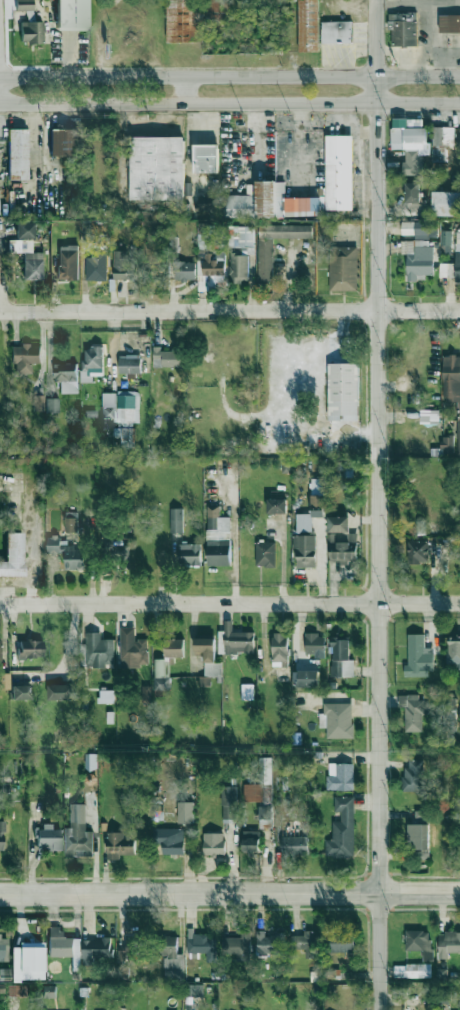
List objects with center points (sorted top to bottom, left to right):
building: (23, 5)
building: (71, 14)
building: (195, 17)
building: (449, 23)
building: (308, 25)
building: (403, 29)
building: (31, 31)
building: (337, 31)
road: (230, 77)
road: (187, 90)
road: (230, 103)
building: (446, 135)
building: (63, 141)
building: (410, 141)
building: (17, 153)
building: (205, 158)
building: (156, 168)
building: (339, 172)
building: (412, 192)
building: (280, 200)
building: (205, 202)
building: (446, 203)
building: (238, 205)
building: (425, 229)
building: (24, 230)
building: (445, 241)
building: (457, 256)
building: (28, 258)
building: (419, 258)
building: (265, 260)
building: (68, 262)
building: (124, 265)
building: (96, 266)
building: (238, 268)
building: (343, 268)
building: (184, 270)
building: (210, 272)
road: (230, 311)
building: (24, 357)
building: (168, 357)
building: (93, 360)
building: (129, 365)
building: (66, 376)
building: (452, 385)
building: (343, 391)
building: (38, 402)
building: (52, 405)
building: (122, 415)
building: (429, 415)
building: (447, 444)
building: (337, 469)
road: (383, 504)
building: (276, 505)
building: (312, 505)
building: (175, 519)
building: (70, 521)
building: (338, 523)
building: (218, 537)
road: (29, 543)
building: (342, 547)
building: (118, 549)
building: (305, 550)
building: (418, 551)
building: (67, 552)
building: (265, 553)
building: (190, 554)
building: (12, 555)
road: (7, 583)
road: (229, 603)
building: (238, 640)
building: (315, 644)
building: (0, 647)
building: (30, 648)
building: (132, 648)
building: (279, 649)
building: (98, 650)
building: (453, 652)
building: (208, 655)
building: (419, 656)
building: (341, 657)
building: (166, 663)
building: (307, 678)
building: (4, 680)
building: (20, 691)
building: (61, 691)
building: (247, 691)
building: (146, 694)
building: (105, 696)
building: (413, 711)
building: (337, 719)
building: (449, 721)
building: (413, 775)
building: (340, 776)
building: (261, 788)
building: (229, 802)
building: (185, 812)
building: (421, 816)
building: (81, 818)
building: (342, 828)
building: (1, 835)
building: (48, 837)
building: (170, 839)
building: (418, 839)
building: (250, 841)
building: (213, 843)
building: (119, 845)
building: (294, 845)
road: (229, 894)
building: (341, 941)
building: (419, 942)
building: (269, 943)
building: (306, 943)
building: (448, 943)
building: (202, 944)
building: (64, 946)
building: (236, 946)
building: (3, 948)
building: (95, 949)
building: (128, 949)
building: (172, 958)
building: (27, 961)
building: (412, 970)
building: (1, 987)
building: (16, 989)
building: (194, 989)

